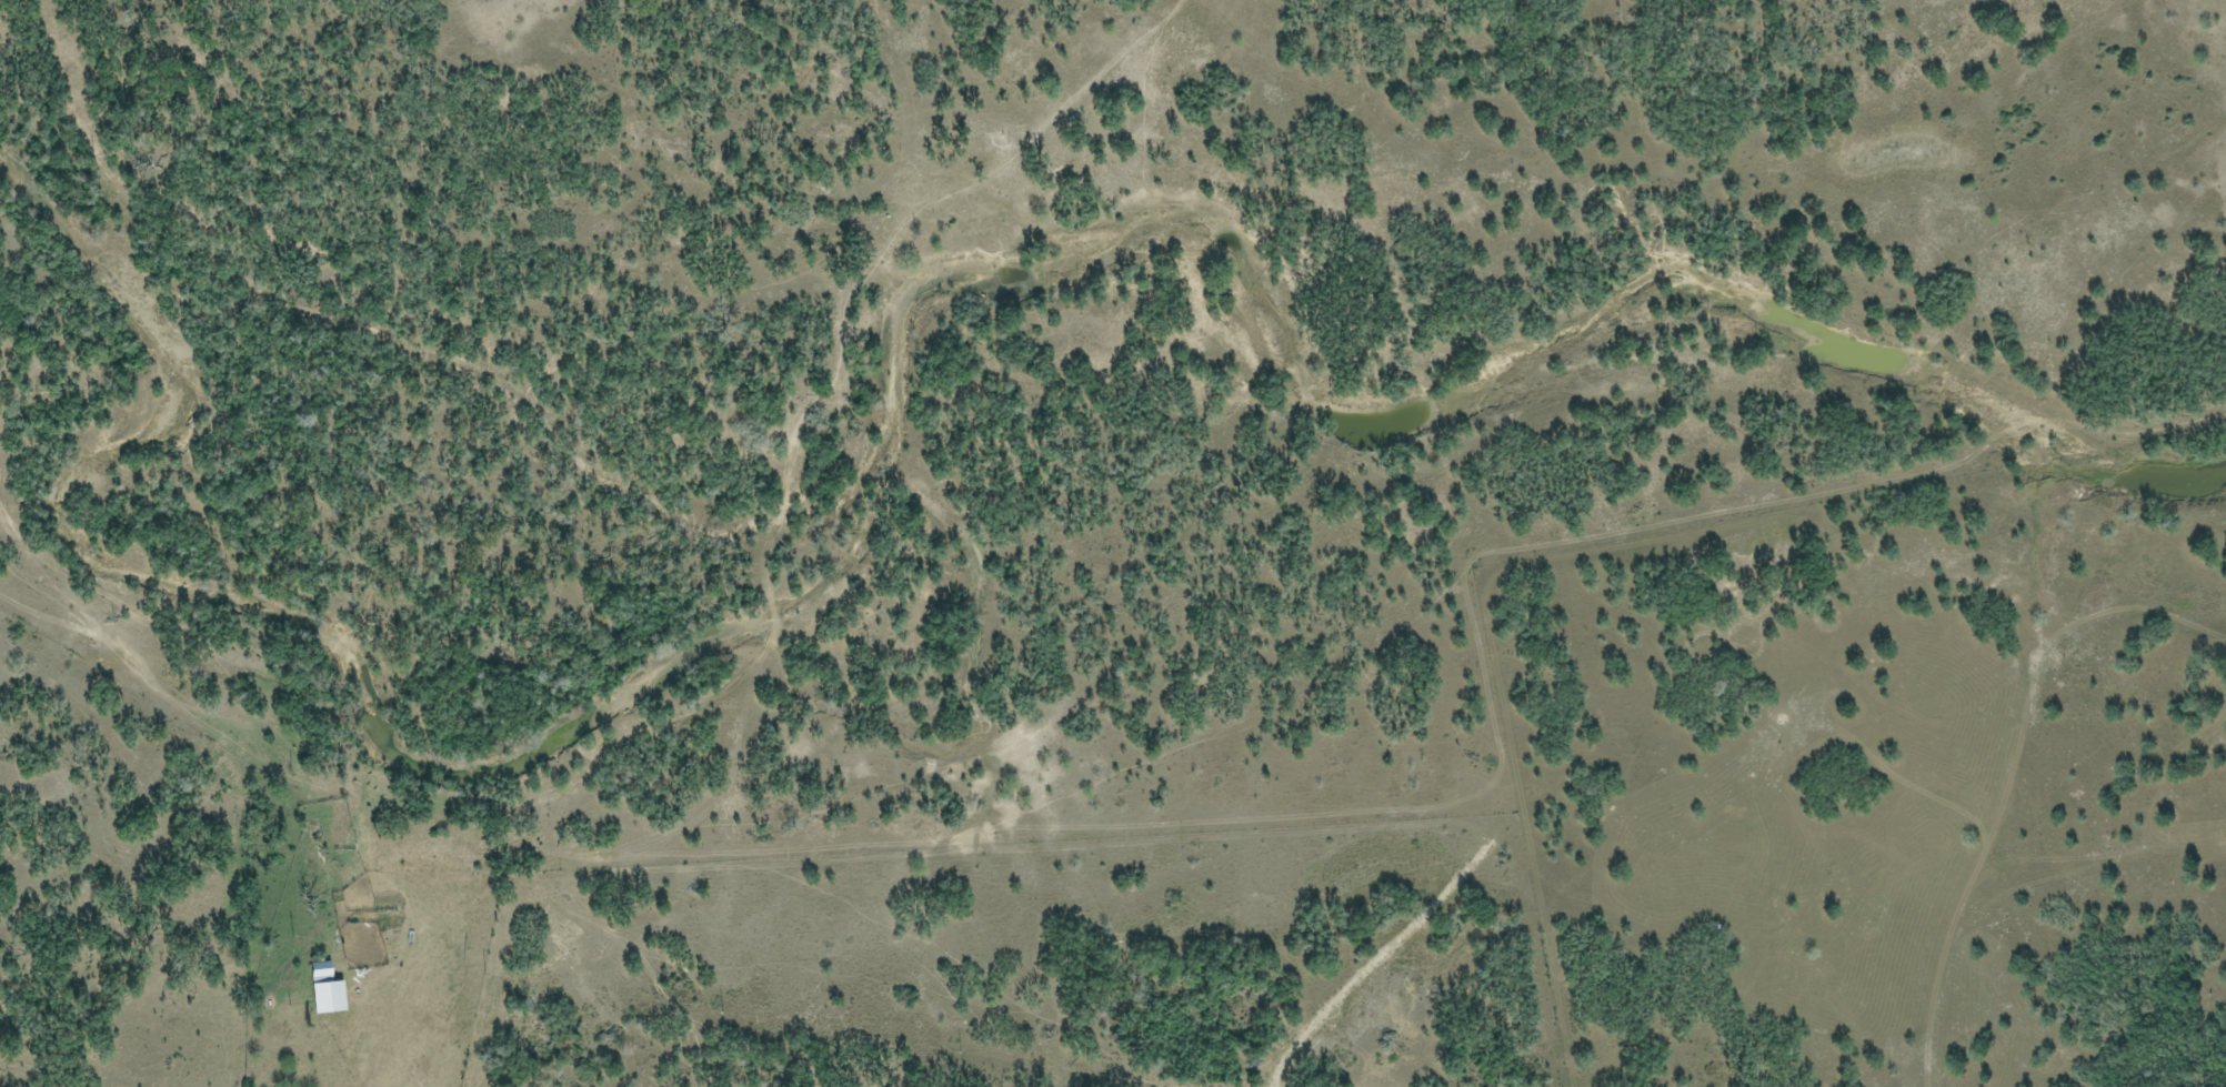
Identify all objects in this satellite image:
road: (824, 545)
building: (328, 988)

